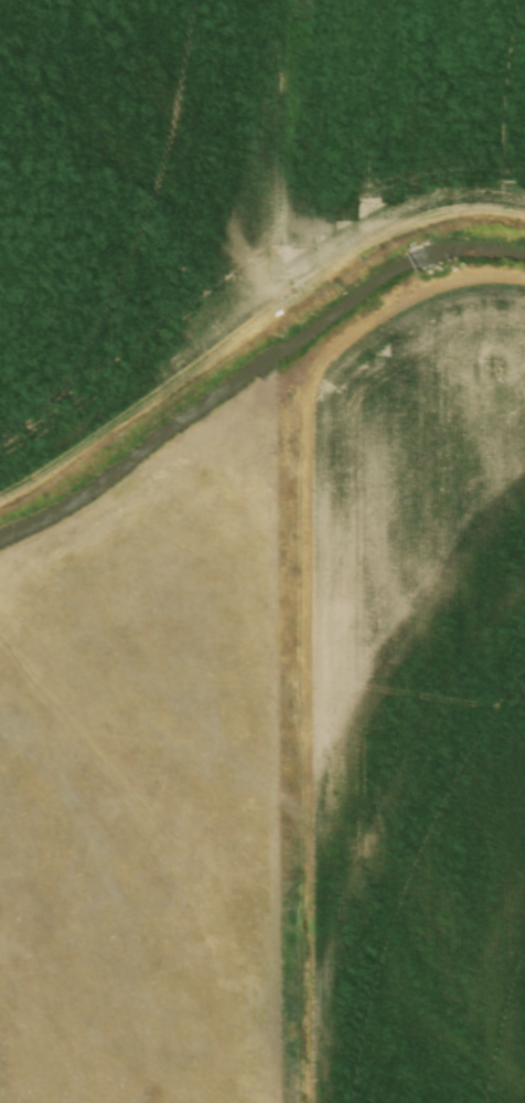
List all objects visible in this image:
crop: (217, 165)
road: (253, 326)
crop: (422, 702)

